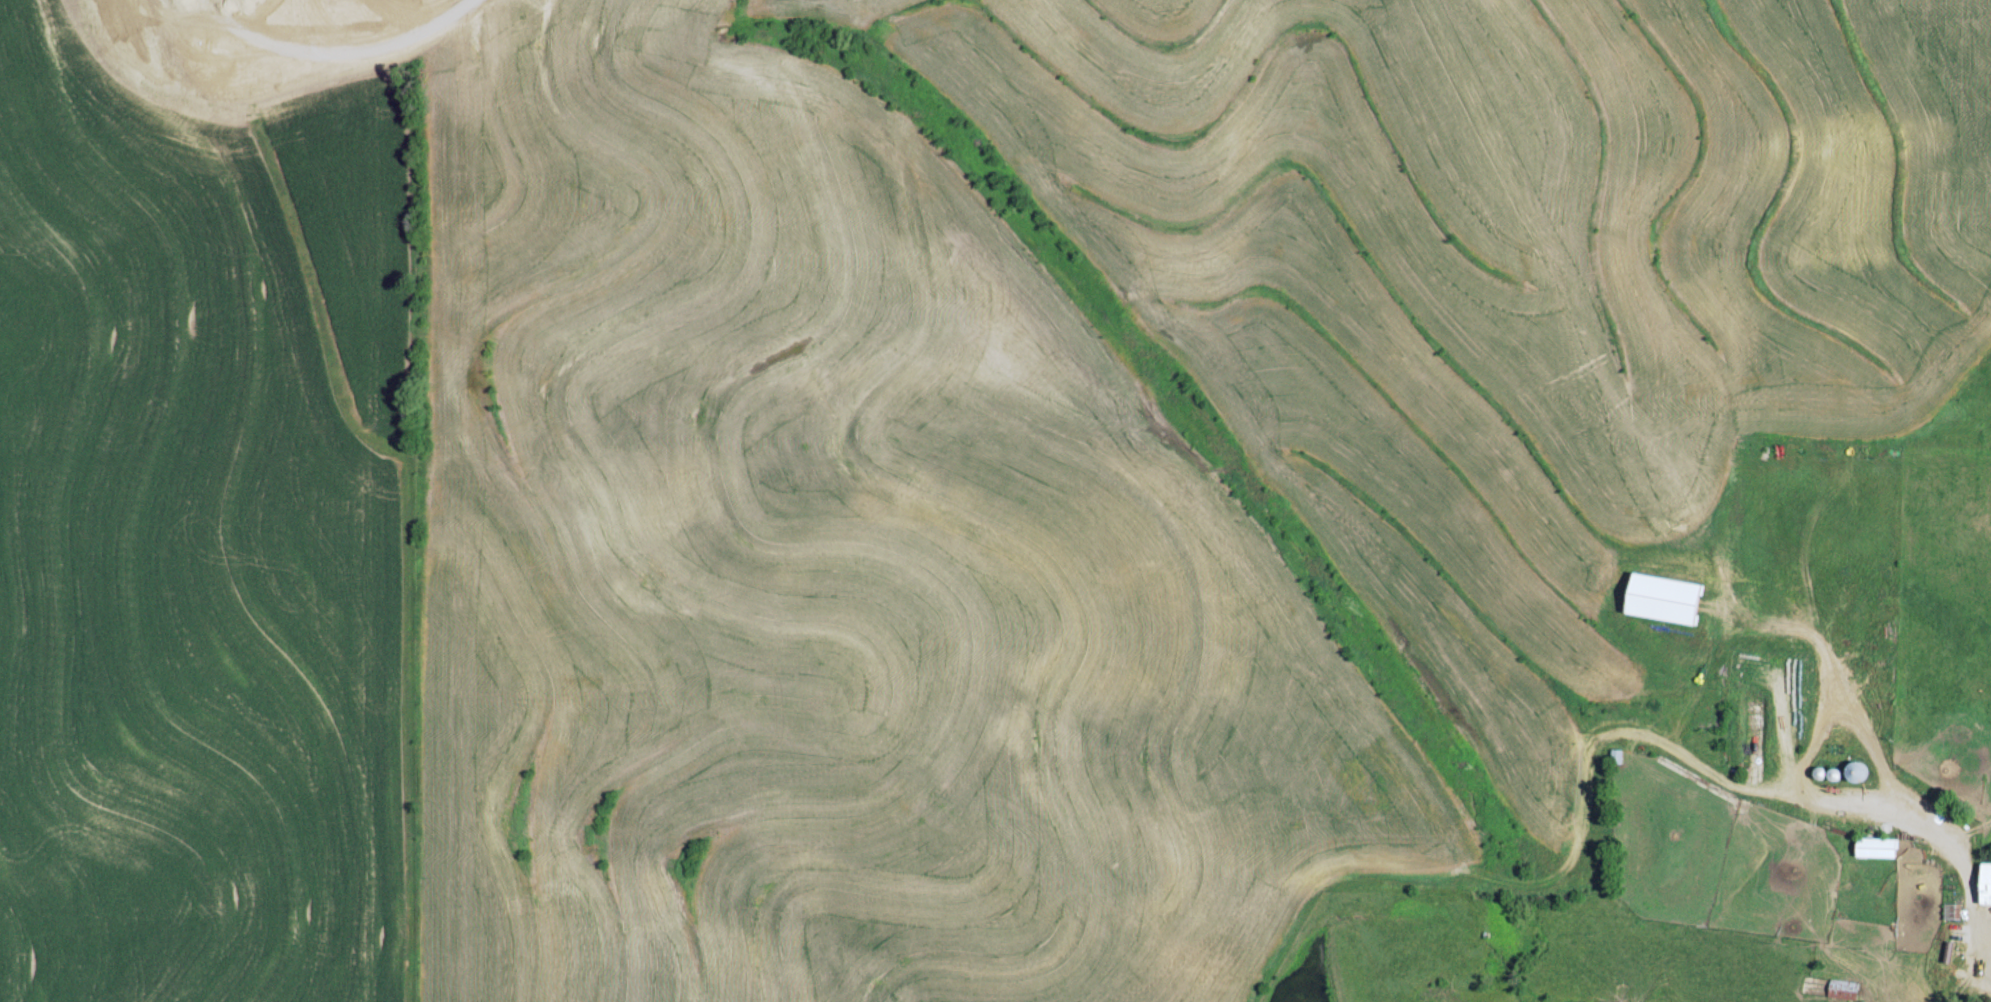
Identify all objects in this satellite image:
building: (1736, 625)
building: (1612, 756)
building: (1854, 770)
building: (1874, 847)
building: (1985, 883)

